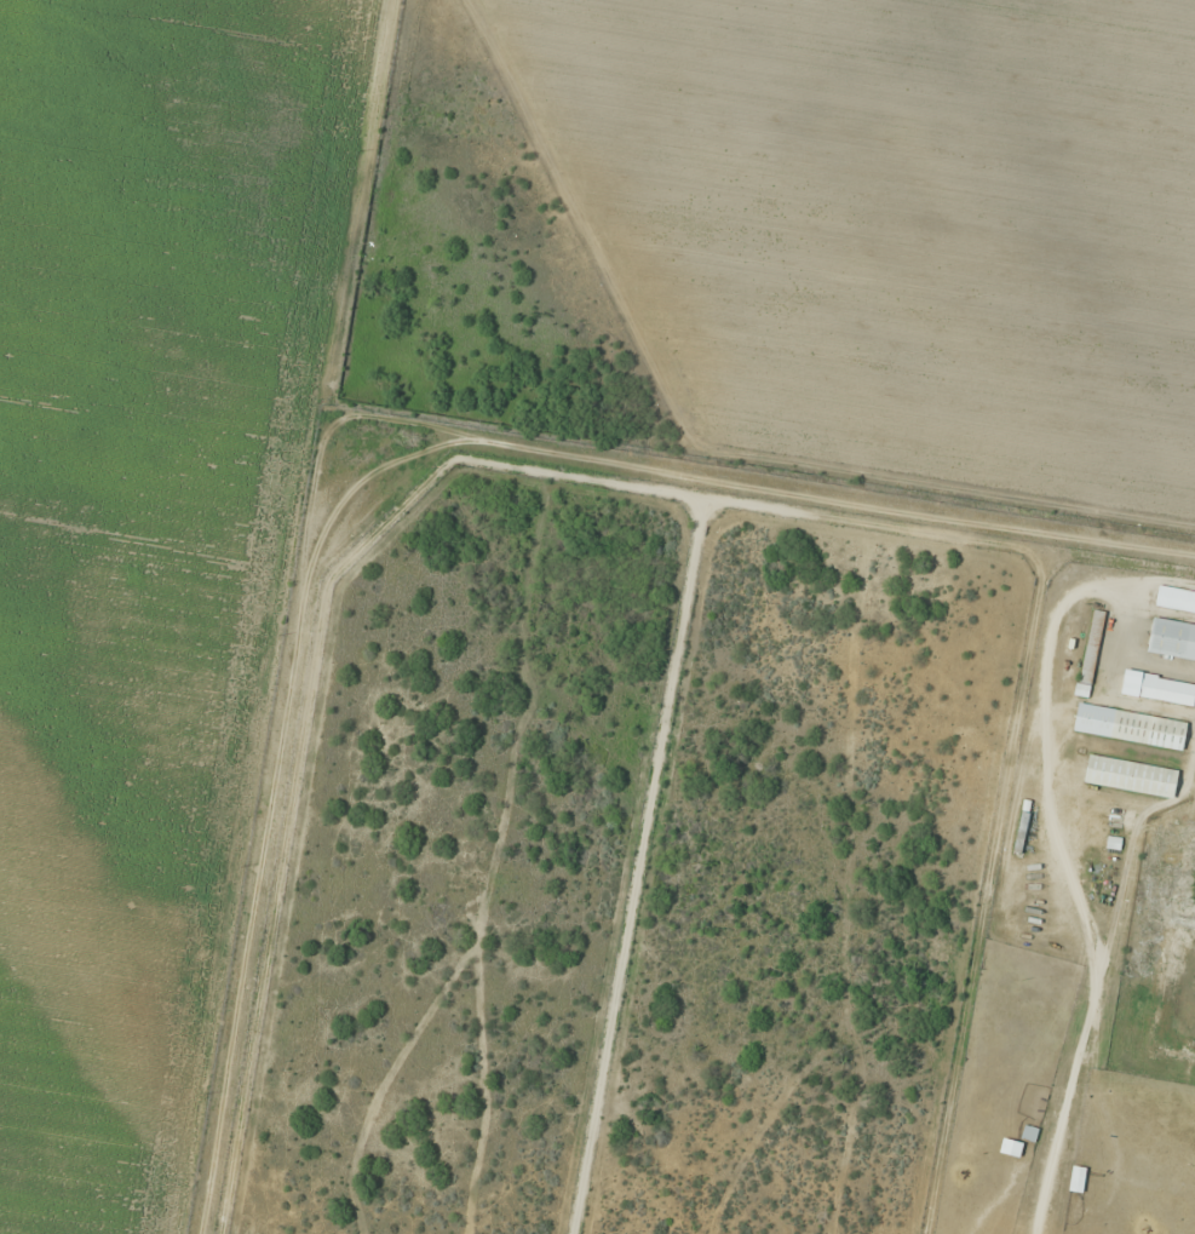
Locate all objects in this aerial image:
road: (387, 452)
building: (1176, 598)
building: (1172, 638)
building: (1091, 647)
building: (1167, 689)
building: (1148, 729)
building: (1131, 776)
building: (1121, 817)
airport: (708, 859)
building: (1078, 1178)

